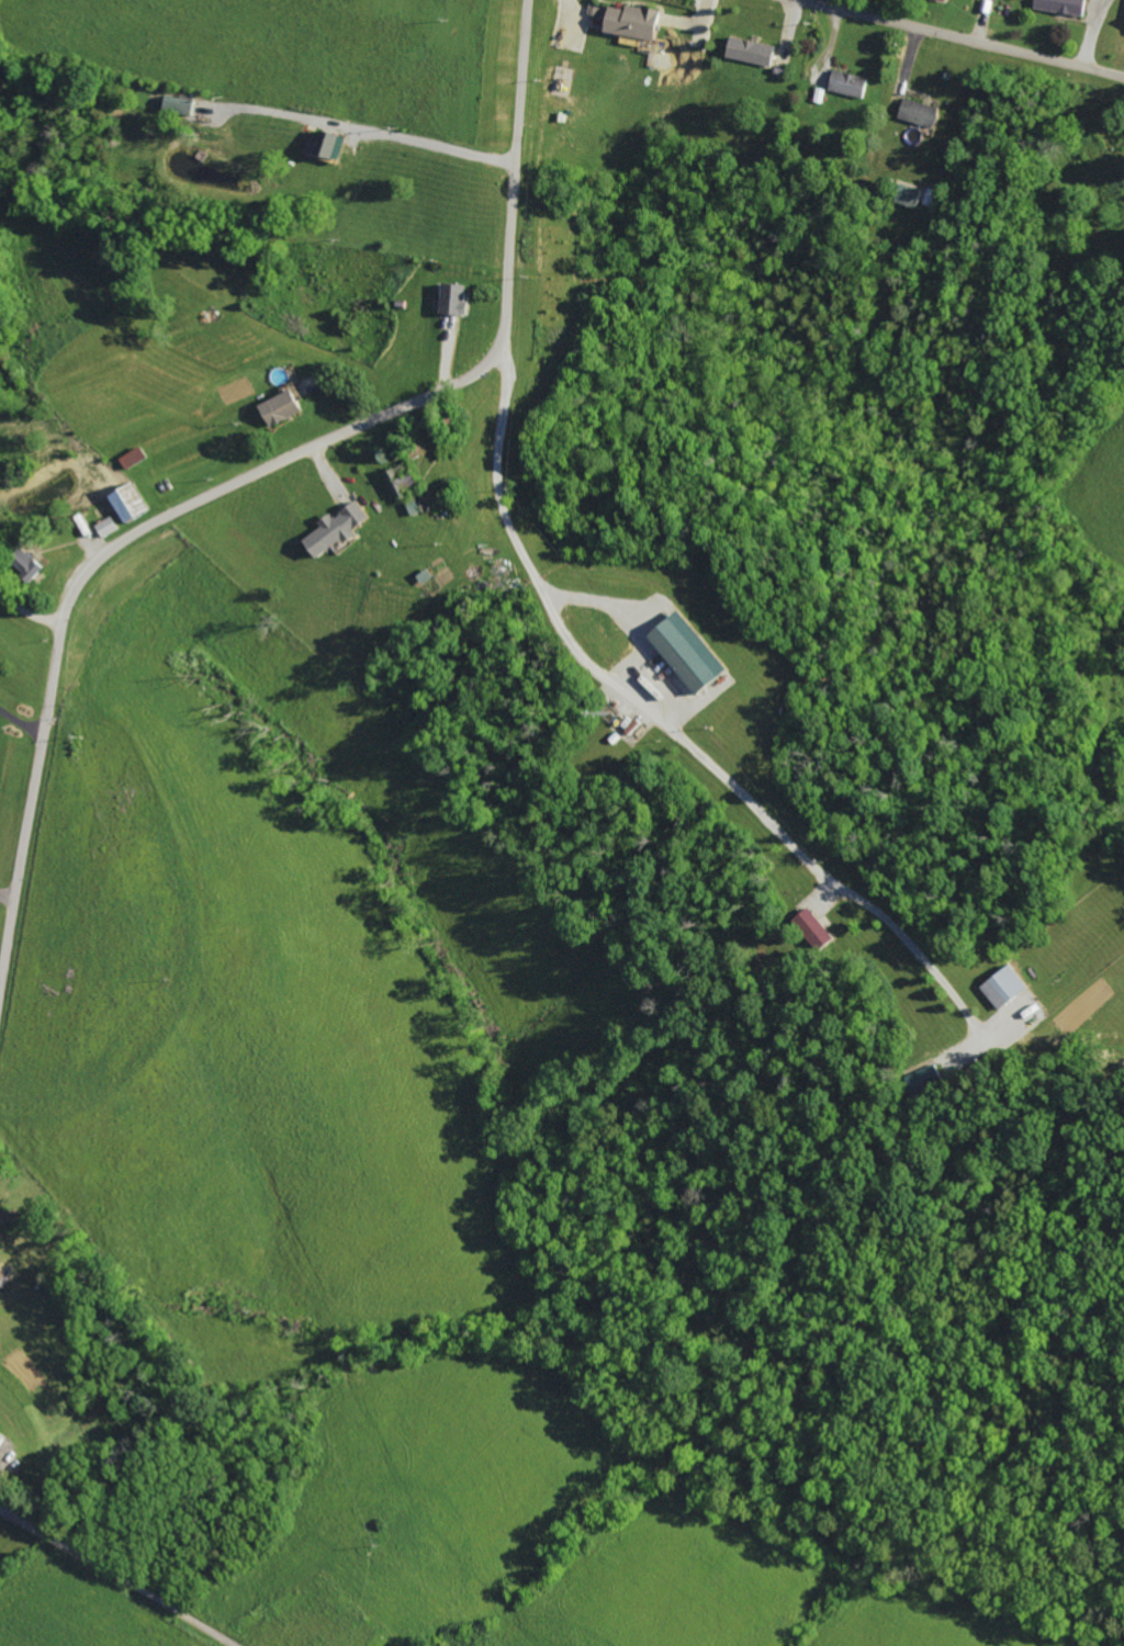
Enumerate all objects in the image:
building: (1067, 5)
building: (636, 21)
road: (958, 38)
building: (753, 50)
building: (852, 82)
building: (179, 105)
building: (922, 112)
road: (376, 131)
building: (328, 144)
building: (911, 194)
building: (458, 297)
building: (284, 407)
road: (247, 480)
building: (396, 484)
building: (133, 503)
building: (110, 527)
building: (338, 529)
building: (35, 566)
road: (33, 611)
building: (694, 653)
road: (23, 722)
road: (666, 729)
building: (619, 730)
building: (816, 928)
building: (1008, 988)
building: (929, 1078)
park: (1, 1149)
building: (3, 1440)
road: (116, 1576)

